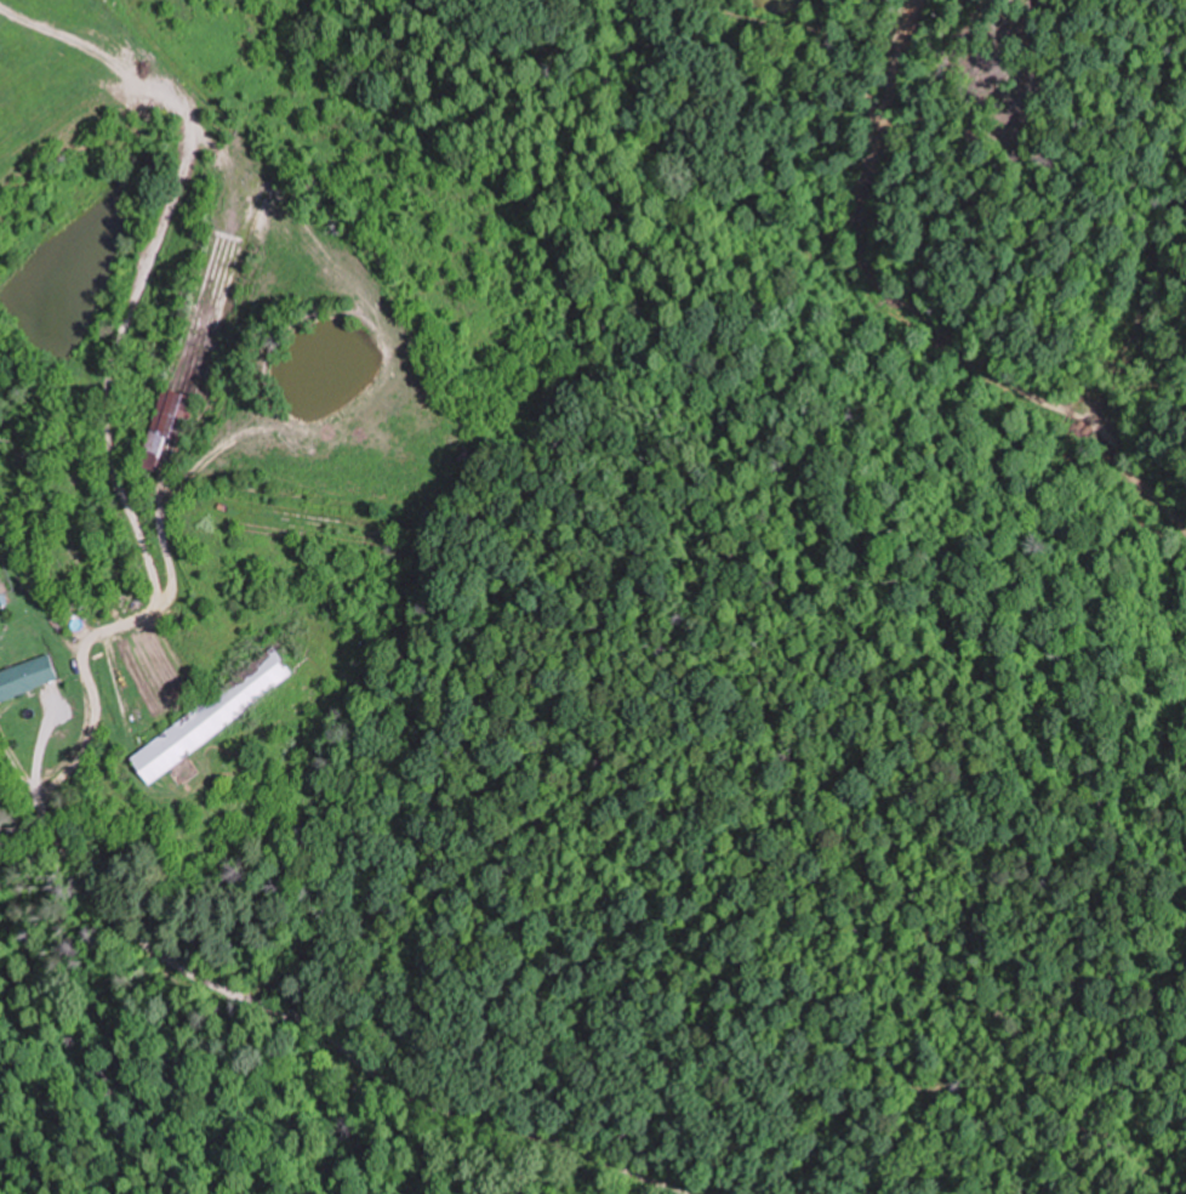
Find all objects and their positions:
building: (167, 423)
building: (27, 677)
road: (192, 706)
building: (213, 713)

